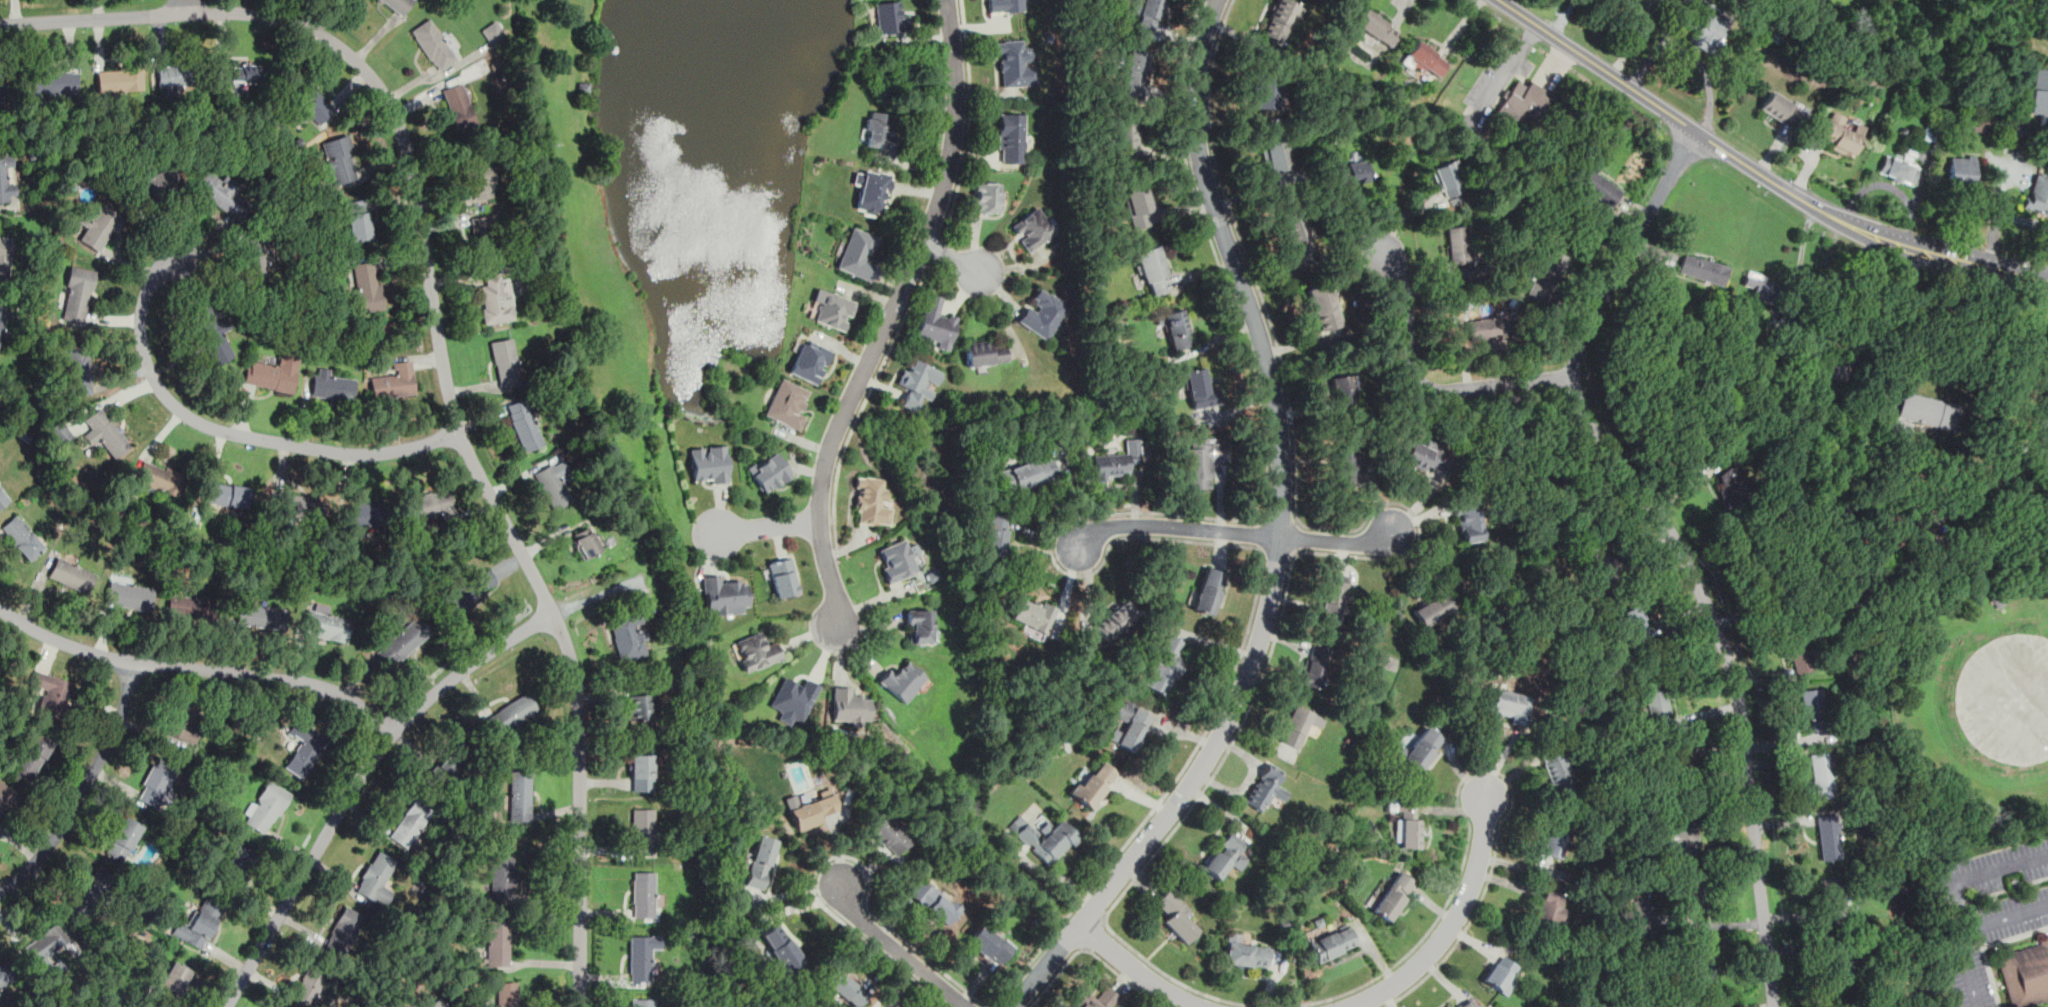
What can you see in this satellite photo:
building: (397, 5)
road: (183, 6)
building: (1006, 6)
road: (1403, 12)
building: (1149, 15)
road: (1560, 16)
building: (890, 17)
road: (92, 19)
building: (1280, 19)
building: (1377, 27)
building: (1709, 32)
building: (494, 33)
road: (1632, 37)
road: (1659, 43)
building: (433, 44)
flagpole: (1531, 56)
building: (1422, 60)
building: (1015, 63)
building: (247, 73)
building: (1136, 73)
road: (1705, 74)
building: (174, 75)
building: (119, 79)
building: (55, 82)
building: (2, 88)
building: (1265, 92)
building: (2039, 94)
building: (308, 100)
building: (457, 100)
building: (1522, 101)
building: (1778, 107)
road: (1671, 113)
road: (969, 119)
building: (1982, 124)
building: (876, 129)
building: (2017, 129)
building: (1839, 133)
building: (1930, 133)
building: (1125, 136)
building: (1011, 137)
building: (1276, 161)
building: (341, 163)
building: (1899, 168)
building: (1961, 168)
building: (1353, 171)
building: (1446, 174)
building: (477, 175)
building: (7, 178)
building: (156, 184)
building: (1596, 185)
building: (872, 190)
building: (222, 194)
building: (2037, 194)
building: (985, 198)
building: (1138, 206)
road: (1996, 212)
building: (358, 218)
road: (2022, 219)
building: (100, 227)
road: (1859, 227)
building: (1033, 228)
building: (486, 233)
building: (1298, 234)
building: (1458, 243)
road: (937, 249)
building: (857, 253)
road: (1941, 255)
building: (4, 256)
road: (951, 258)
building: (257, 262)
building: (1702, 268)
building: (1152, 270)
road: (2029, 276)
building: (1546, 278)
building: (1758, 285)
building: (369, 287)
road: (1821, 291)
building: (78, 294)
building: (496, 300)
building: (1323, 308)
building: (833, 309)
building: (1043, 313)
road: (890, 314)
building: (2, 318)
road: (1406, 318)
building: (935, 323)
road: (1905, 327)
building: (1176, 328)
building: (1487, 328)
building: (213, 333)
building: (985, 353)
building: (810, 360)
building: (507, 363)
building: (1846, 366)
building: (82, 369)
building: (274, 372)
building: (395, 381)
building: (916, 382)
building: (332, 385)
road: (1496, 387)
building: (1200, 389)
building: (1343, 389)
road: (866, 401)
building: (787, 403)
building: (562, 410)
building: (1929, 410)
building: (525, 424)
building: (108, 433)
road: (230, 437)
road: (464, 442)
building: (2041, 451)
building: (1428, 457)
building: (1117, 460)
building: (1202, 462)
building: (709, 464)
building: (1346, 464)
building: (770, 471)
building: (1029, 473)
building: (160, 476)
building: (556, 483)
building: (1555, 485)
building: (1732, 485)
building: (229, 493)
building: (4, 497)
building: (155, 498)
building: (872, 502)
building: (431, 505)
building: (299, 507)
building: (364, 514)
road: (1264, 518)
road: (833, 519)
road: (826, 520)
road: (1298, 520)
road: (1281, 521)
building: (1467, 522)
road: (1177, 525)
road: (769, 526)
building: (363, 531)
building: (995, 533)
road: (1265, 534)
road: (1280, 536)
road: (1295, 536)
building: (23, 537)
road: (1336, 541)
building: (586, 543)
road: (1676, 543)
road: (1255, 546)
road: (849, 547)
road: (1262, 550)
road: (1279, 551)
road: (1296, 553)
building: (1597, 553)
building: (897, 561)
building: (73, 574)
building: (784, 577)
building: (1209, 590)
road: (605, 592)
building: (468, 594)
building: (130, 595)
building: (726, 595)
building: (1333, 598)
building: (1996, 599)
building: (189, 606)
building: (1433, 608)
building: (257, 615)
building: (1032, 615)
building: (1118, 619)
building: (326, 623)
building: (1635, 624)
building: (920, 627)
building: (630, 635)
building: (404, 642)
building: (756, 651)
building: (1798, 652)
building: (0, 665)
building: (1165, 666)
building: (0, 667)
building: (1314, 668)
road: (200, 669)
building: (904, 681)
building: (51, 695)
building: (794, 699)
building: (1509, 704)
building: (1656, 704)
building: (850, 705)
building: (1813, 706)
building: (640, 707)
building: (513, 713)
building: (182, 722)
building: (1130, 725)
building: (1299, 725)
building: (305, 748)
building: (1419, 748)
building: (32, 756)
building: (449, 765)
road: (1218, 768)
building: (1558, 770)
building: (642, 772)
building: (1683, 774)
building: (1822, 774)
building: (157, 782)
road: (356, 783)
building: (1093, 784)
building: (1267, 787)
road: (86, 788)
building: (521, 795)
building: (7, 798)
building: (268, 807)
building: (812, 811)
building: (411, 821)
building: (1408, 824)
building: (644, 831)
building: (890, 834)
building: (1044, 837)
building: (1682, 837)
building: (125, 838)
building: (1830, 838)
building: (1553, 840)
building: (1224, 857)
building: (761, 862)
building: (240, 865)
road: (1048, 872)
road: (1975, 874)
building: (376, 878)
building: (503, 879)
road: (794, 890)
building: (92, 893)
building: (1832, 893)
building: (644, 894)
building: (1394, 895)
building: (1691, 895)
building: (933, 900)
road: (799, 906)
building: (1549, 908)
building: (1174, 913)
building: (1633, 914)
road: (1104, 918)
road: (1451, 923)
building: (201, 924)
road: (1967, 929)
building: (344, 930)
road: (1094, 931)
building: (48, 941)
building: (498, 942)
building: (989, 942)
building: (1332, 943)
building: (781, 947)
road: (1087, 947)
road: (898, 950)
road: (1094, 952)
building: (1245, 953)
building: (640, 957)
building: (1701, 963)
building: (1844, 966)
road: (1136, 968)
building: (5, 974)
building: (177, 974)
building: (1500, 974)
building: (2026, 974)
building: (867, 982)
building: (843, 985)
building: (309, 986)
building: (505, 994)
building: (1099, 999)
building: (435, 1002)
building: (642, 1002)
building: (1469, 1003)
road: (991, 1005)
building: (1450, 1006)

